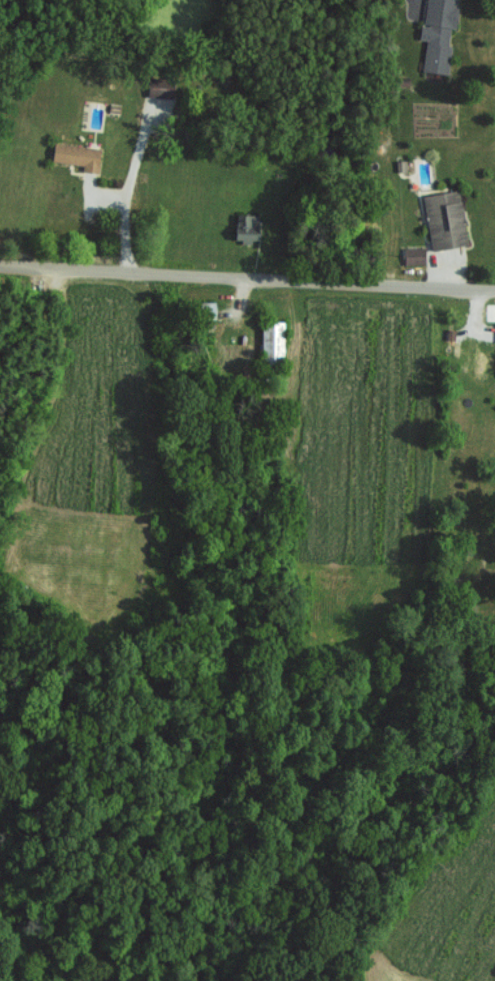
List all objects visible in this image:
building: (436, 33)
building: (159, 87)
building: (75, 156)
road: (133, 172)
building: (443, 220)
building: (244, 227)
road: (93, 235)
building: (412, 256)
road: (247, 278)
building: (205, 310)
building: (271, 342)

